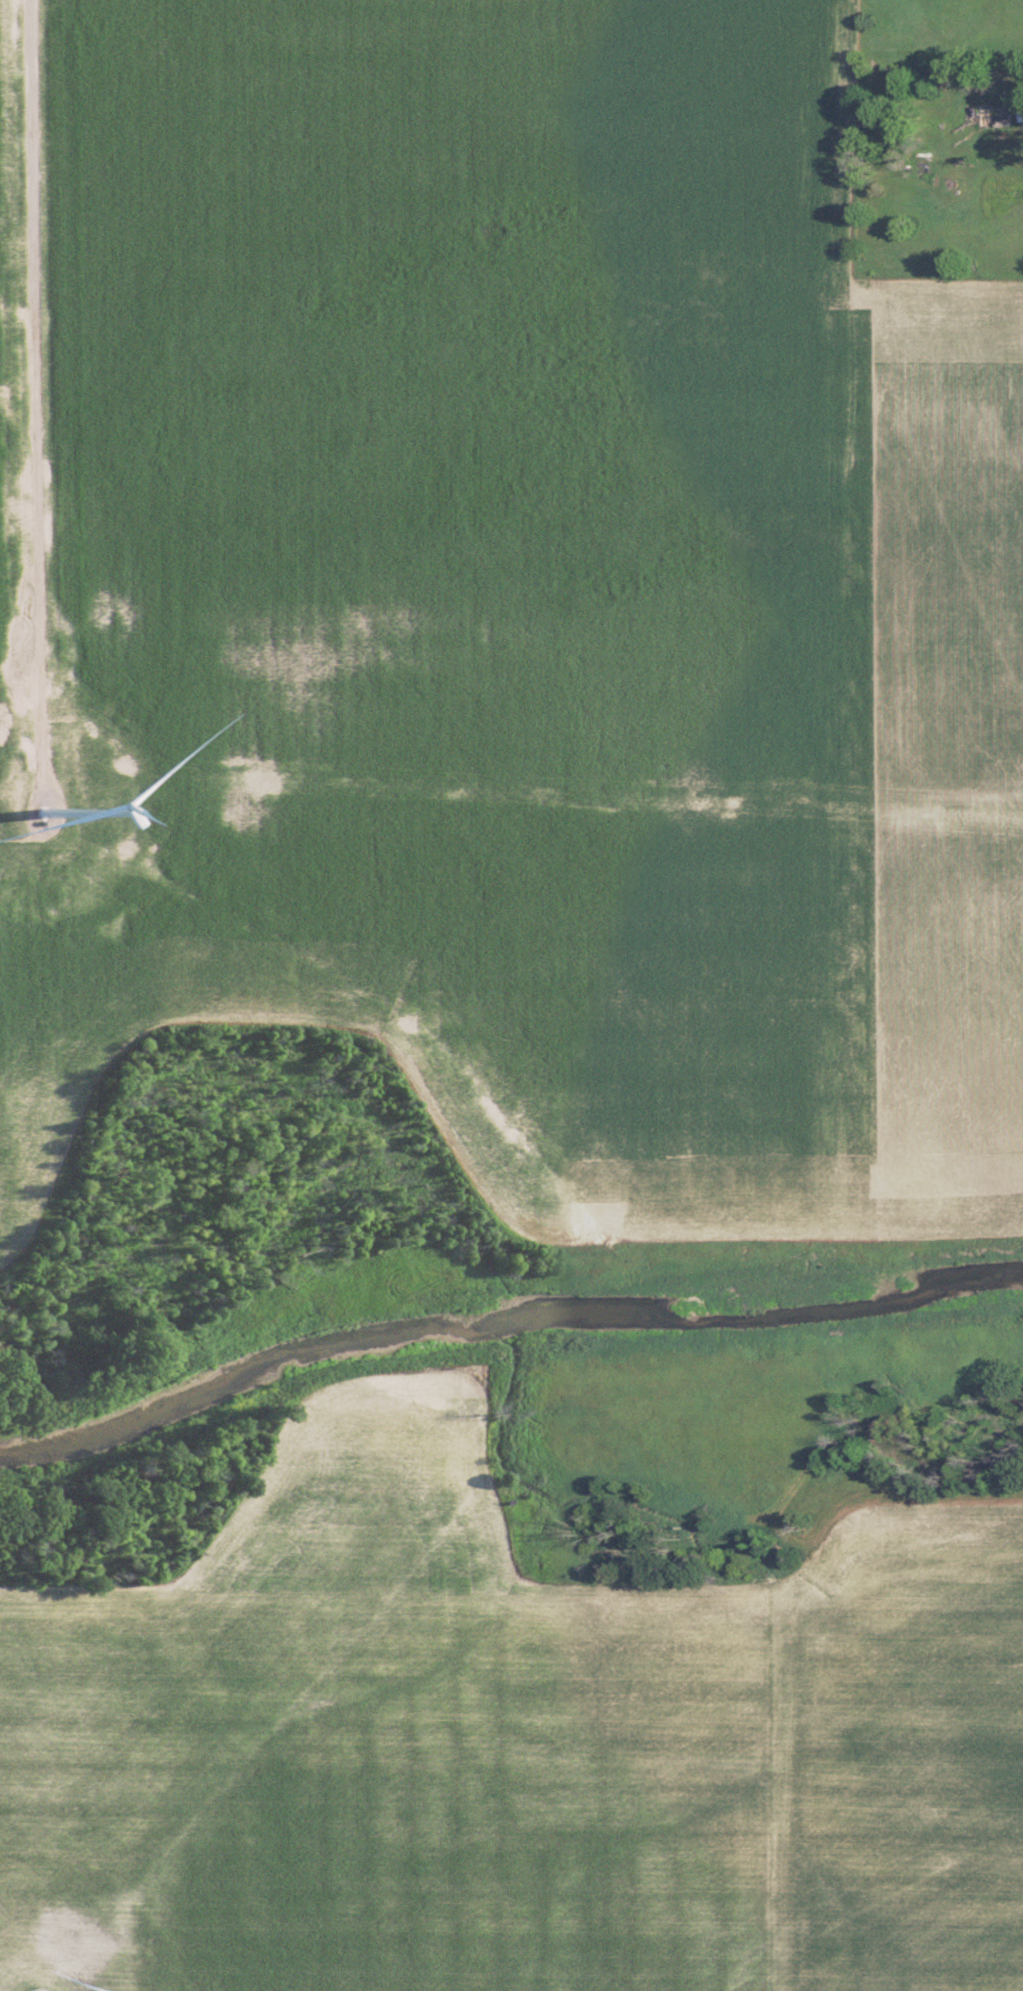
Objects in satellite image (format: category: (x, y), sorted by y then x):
road: (1013, 77)
building: (987, 116)
wind turbine: (40, 812)
river: (506, 1316)

